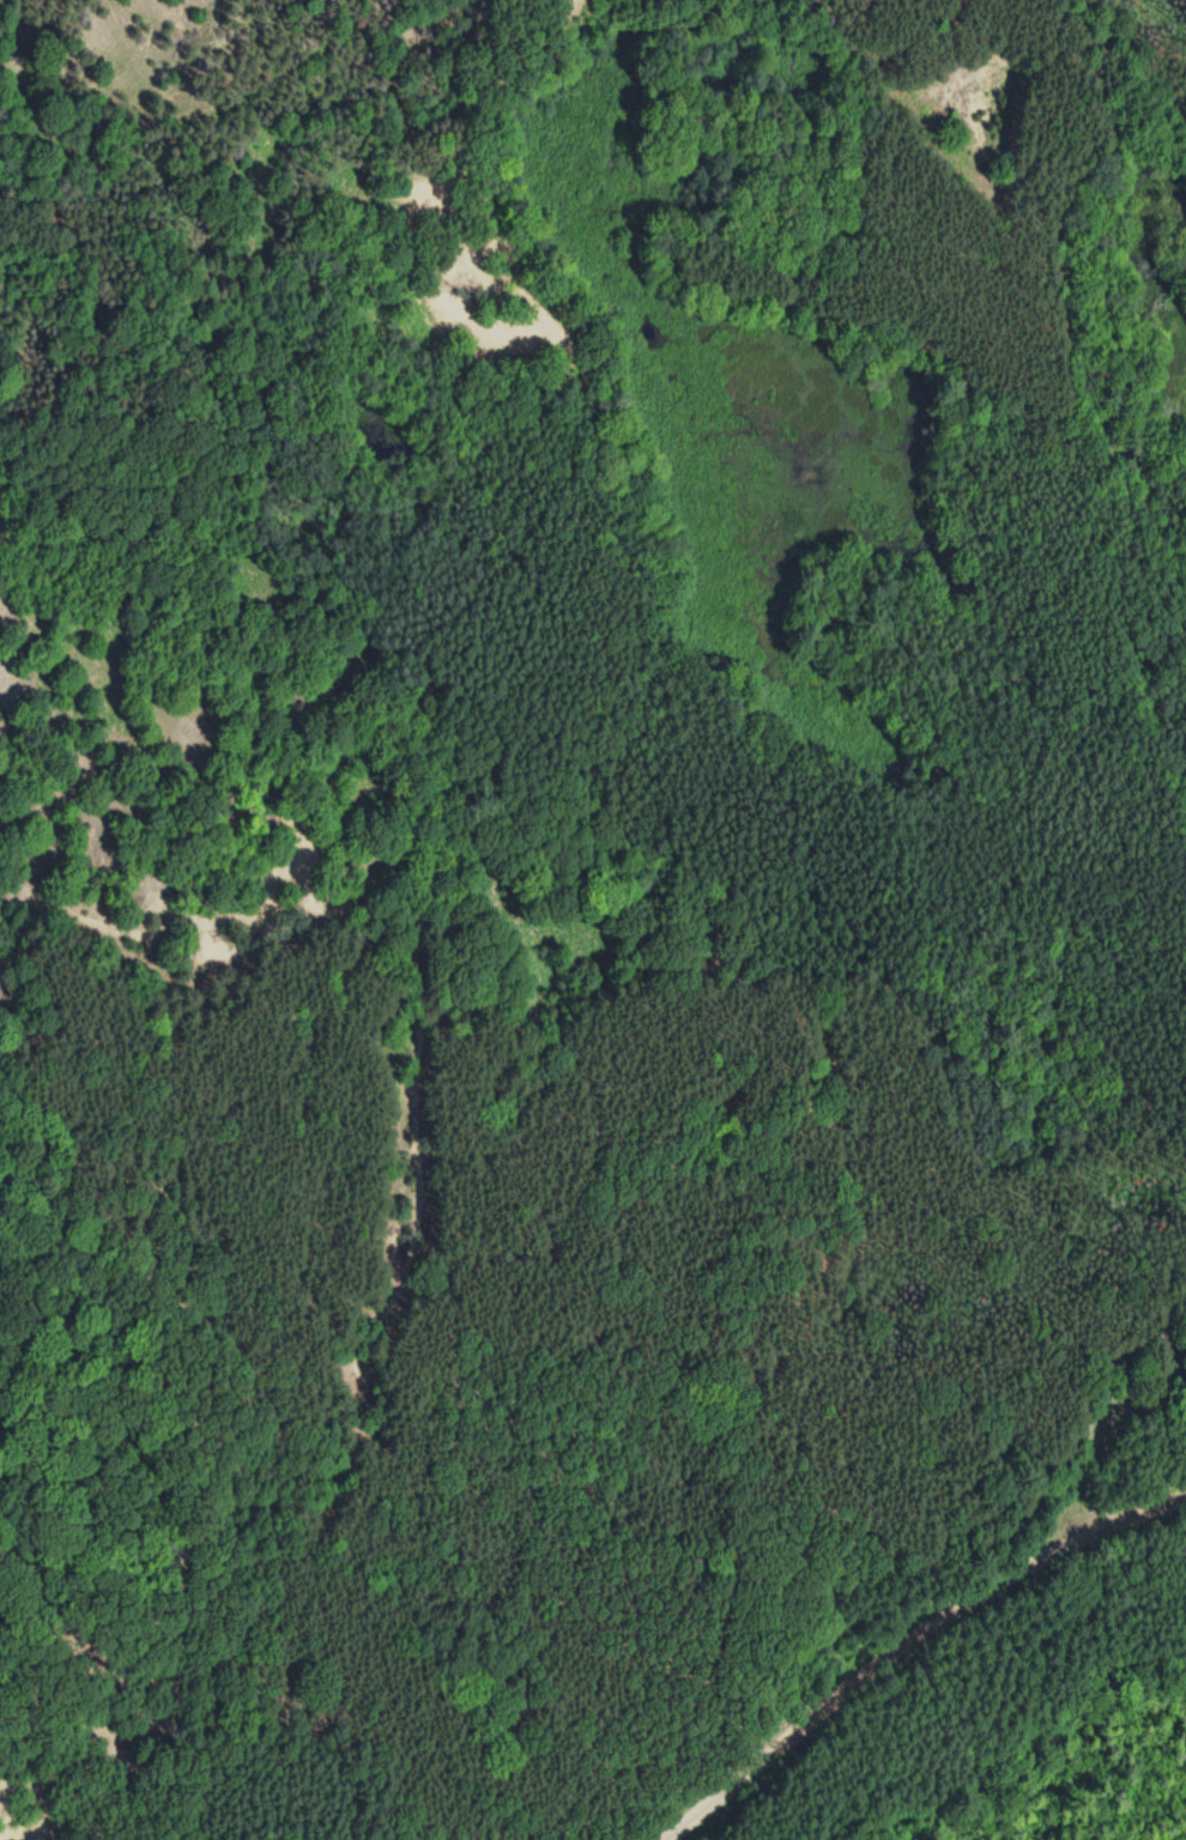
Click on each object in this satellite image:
road: (885, 1627)

